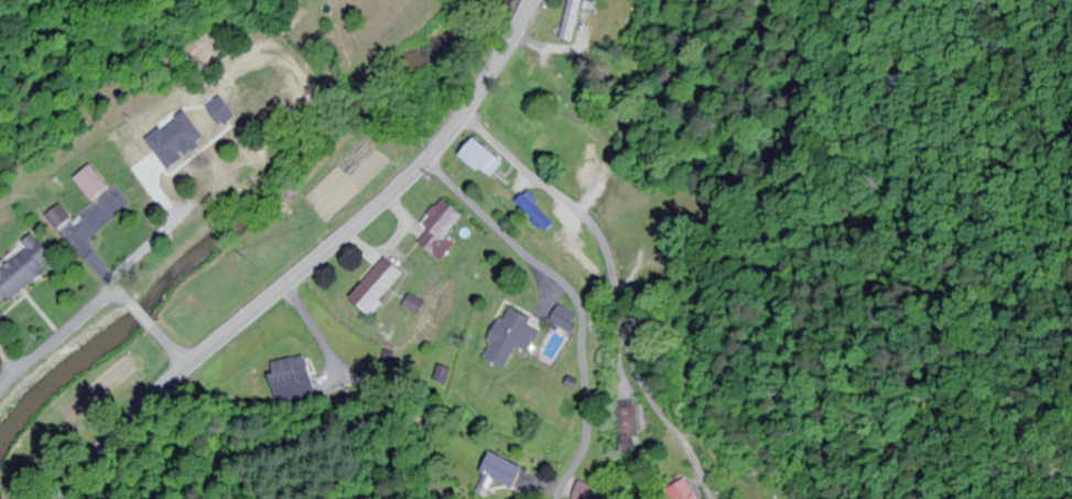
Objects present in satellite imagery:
building: (572, 21)
building: (560, 95)
building: (484, 159)
building: (588, 166)
building: (149, 174)
building: (89, 184)
building: (535, 213)
building: (442, 230)
road: (313, 260)
building: (580, 260)
building: (24, 271)
building: (379, 286)
road: (611, 288)
road: (94, 295)
building: (414, 305)
road: (562, 307)
building: (563, 318)
road: (149, 323)
building: (510, 339)
building: (293, 380)
building: (505, 471)
building: (588, 491)
building: (683, 491)

